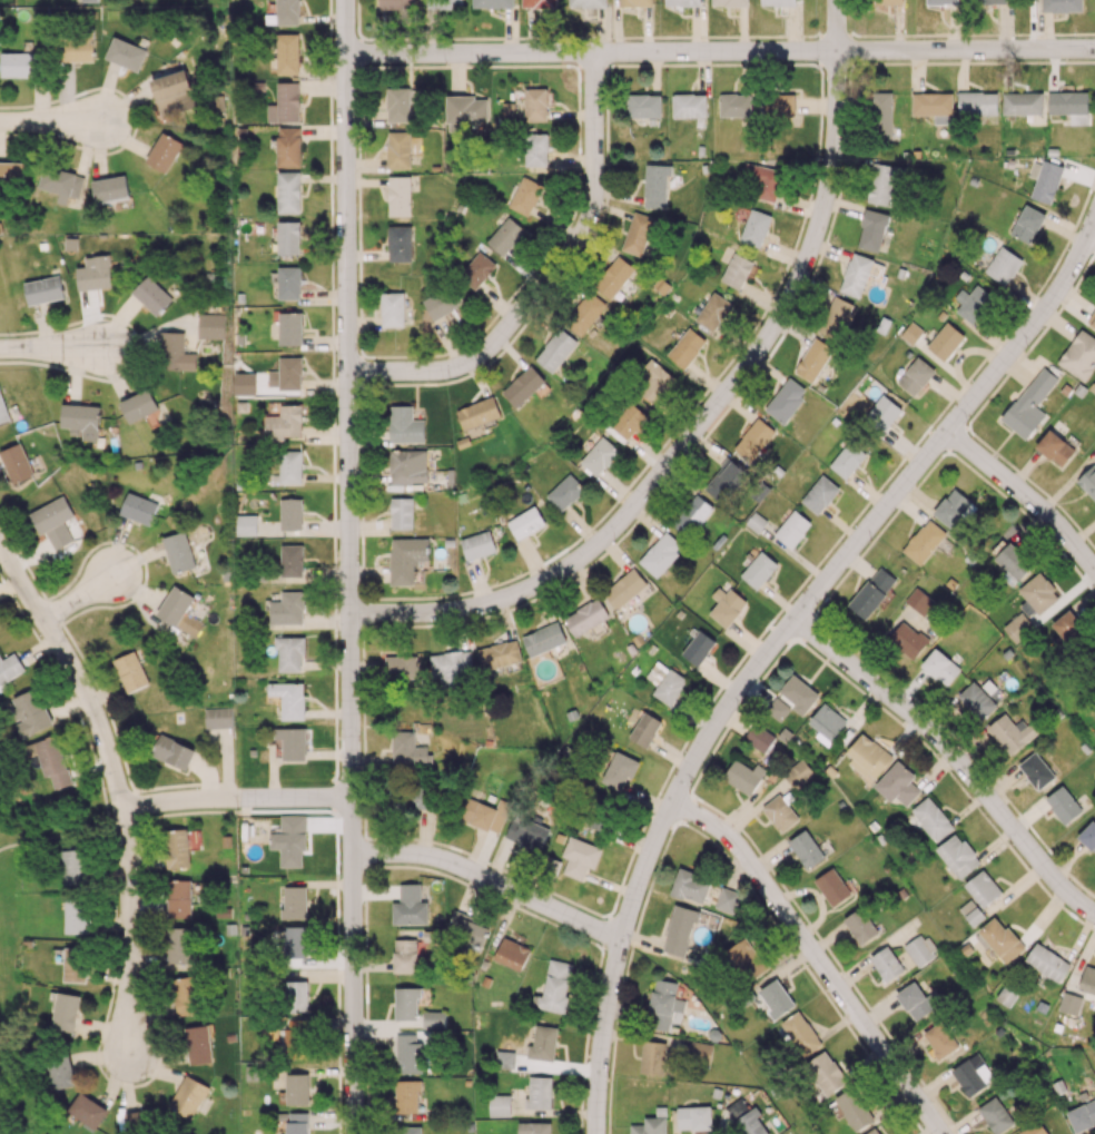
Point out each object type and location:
building: (889, 1)
building: (989, 1)
building: (634, 2)
building: (682, 2)
building: (728, 2)
building: (778, 2)
building: (940, 2)
building: (396, 3)
building: (492, 3)
building: (539, 3)
building: (586, 3)
building: (443, 4)
building: (1061, 6)
building: (284, 13)
road: (836, 27)
building: (75, 49)
building: (287, 52)
building: (126, 53)
road: (719, 53)
building: (18, 65)
building: (172, 92)
building: (977, 101)
building: (284, 102)
building: (1022, 102)
building: (535, 103)
building: (397, 105)
building: (643, 105)
building: (689, 105)
building: (733, 105)
building: (776, 106)
building: (933, 106)
building: (1069, 106)
building: (466, 109)
building: (881, 116)
road: (52, 119)
building: (288, 147)
building: (398, 149)
building: (536, 149)
building: (162, 151)
building: (10, 174)
building: (760, 180)
building: (1044, 180)
building: (61, 184)
building: (881, 184)
building: (655, 186)
building: (109, 188)
building: (288, 191)
building: (525, 195)
building: (398, 196)
building: (1027, 224)
building: (754, 228)
building: (871, 229)
road: (1089, 229)
building: (637, 233)
building: (505, 236)
building: (288, 237)
building: (399, 243)
road: (1089, 243)
building: (1003, 265)
building: (477, 269)
building: (736, 270)
building: (93, 273)
building: (856, 275)
building: (614, 277)
road: (549, 282)
building: (289, 283)
building: (43, 289)
building: (151, 295)
building: (441, 302)
building: (971, 303)
building: (392, 309)
building: (712, 312)
building: (584, 313)
building: (835, 317)
building: (1091, 317)
building: (209, 325)
building: (289, 328)
building: (944, 341)
building: (685, 347)
road: (52, 348)
building: (555, 349)
building: (175, 352)
building: (1078, 354)
building: (813, 359)
building: (286, 373)
building: (914, 375)
building: (652, 382)
building: (244, 383)
building: (523, 386)
building: (786, 400)
building: (1027, 404)
building: (141, 407)
building: (2, 411)
building: (477, 413)
building: (881, 413)
building: (80, 421)
building: (285, 422)
building: (629, 422)
building: (405, 425)
road: (699, 434)
building: (753, 438)
building: (1094, 444)
building: (1053, 447)
building: (599, 455)
building: (847, 457)
building: (16, 463)
building: (290, 466)
building: (407, 466)
building: (724, 480)
building: (1087, 482)
building: (564, 492)
building: (818, 494)
road: (1023, 500)
building: (950, 507)
building: (138, 509)
building: (290, 513)
building: (402, 513)
building: (691, 515)
building: (52, 522)
building: (525, 522)
building: (756, 523)
building: (246, 524)
building: (790, 527)
building: (921, 541)
building: (477, 544)
building: (178, 552)
building: (660, 553)
building: (406, 559)
building: (290, 561)
building: (1012, 564)
road: (347, 566)
building: (759, 570)
building: (625, 589)
building: (869, 591)
road: (85, 592)
building: (1036, 594)
building: (919, 602)
building: (726, 605)
building: (287, 609)
building: (178, 611)
building: (586, 617)
building: (1017, 627)
building: (1068, 628)
building: (543, 639)
building: (906, 639)
building: (698, 648)
building: (289, 653)
building: (499, 654)
road: (770, 654)
building: (1089, 664)
building: (938, 665)
building: (11, 667)
building: (401, 668)
building: (451, 668)
building: (129, 671)
building: (655, 673)
building: (670, 689)
building: (798, 693)
building: (289, 699)
building: (976, 700)
building: (777, 708)
building: (29, 712)
building: (217, 717)
building: (828, 724)
building: (644, 729)
building: (1010, 732)
building: (758, 738)
building: (292, 742)
building: (172, 751)
building: (411, 752)
building: (867, 756)
building: (52, 760)
road: (951, 761)
building: (619, 770)
building: (1036, 770)
building: (797, 772)
building: (743, 776)
road: (117, 783)
building: (897, 785)
road: (236, 798)
building: (418, 799)
building: (1063, 805)
building: (779, 812)
building: (482, 813)
building: (931, 818)
building: (526, 832)
building: (1088, 836)
road: (55, 837)
building: (288, 839)
building: (176, 848)
building: (806, 849)
building: (957, 856)
building: (579, 857)
building: (73, 866)
road: (489, 880)
building: (690, 886)
building: (831, 886)
building: (983, 888)
building: (178, 898)
building: (727, 900)
building: (294, 901)
building: (410, 906)
building: (971, 913)
building: (77, 916)
building: (859, 925)
building: (465, 928)
building: (679, 930)
building: (1000, 939)
building: (295, 941)
building: (179, 945)
building: (919, 949)
building: (511, 954)
building: (406, 955)
building: (746, 958)
road: (815, 960)
building: (1047, 962)
building: (75, 964)
building: (886, 964)
building: (554, 987)
park: (9, 993)
building: (1079, 993)
building: (185, 995)
building: (296, 996)
building: (1006, 996)
building: (776, 998)
building: (917, 1000)
building: (406, 1004)
building: (663, 1004)
building: (65, 1012)
building: (433, 1019)
building: (800, 1033)
building: (939, 1039)
building: (543, 1042)
building: (293, 1043)
building: (198, 1044)
building: (407, 1053)
building: (700, 1053)
building: (652, 1057)
building: (825, 1072)
building: (60, 1073)
building: (971, 1075)
building: (296, 1089)
building: (539, 1092)
building: (188, 1096)
building: (406, 1096)
building: (499, 1105)
building: (854, 1108)
building: (87, 1110)
building: (995, 1115)
building: (1082, 1115)
building: (693, 1117)
building: (744, 1118)
building: (296, 1123)
building: (649, 1126)
building: (533, 1127)
building: (1033, 1128)
building: (407, 1130)
building: (874, 1131)

